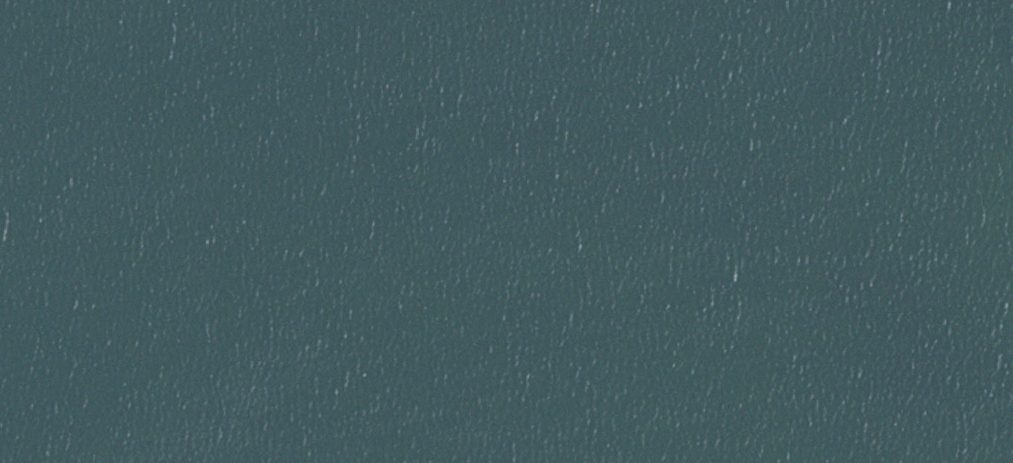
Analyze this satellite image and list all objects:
river: (859, 100)

